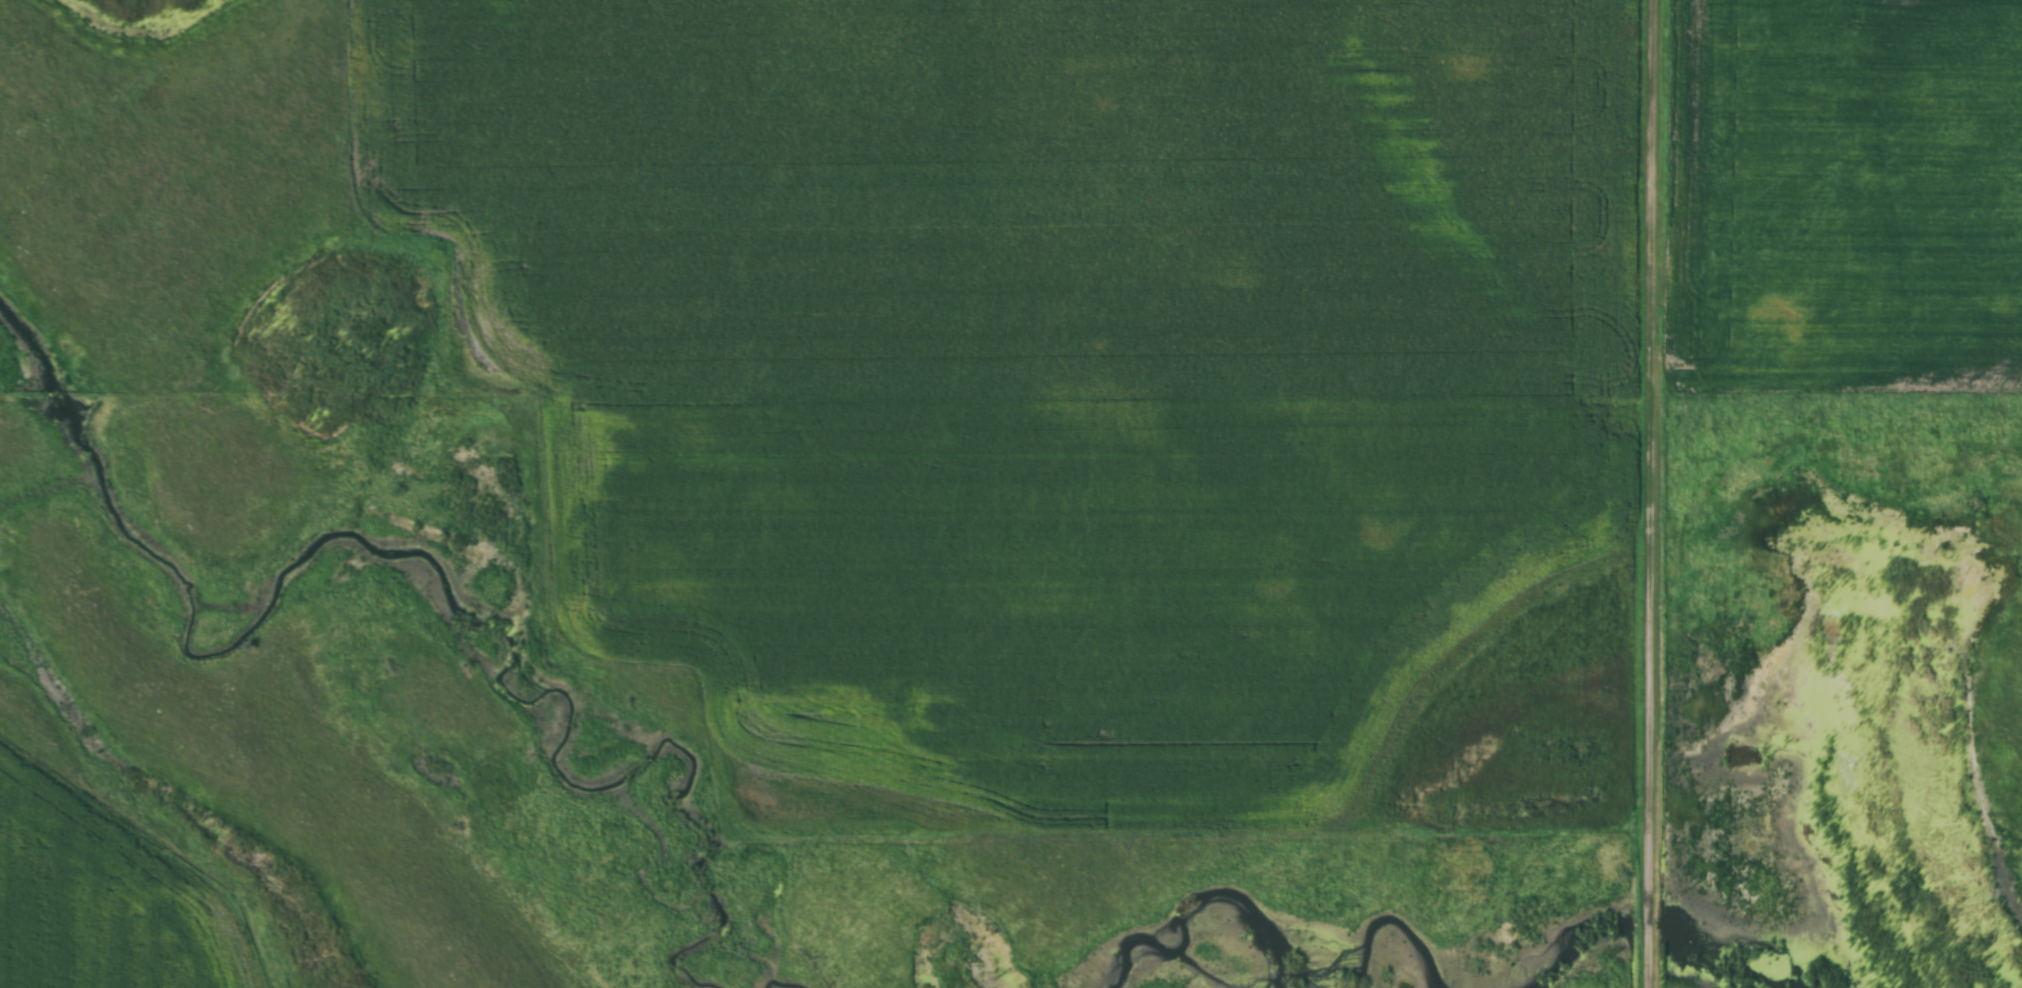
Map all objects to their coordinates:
crop: (1843, 199)
road: (1649, 493)

